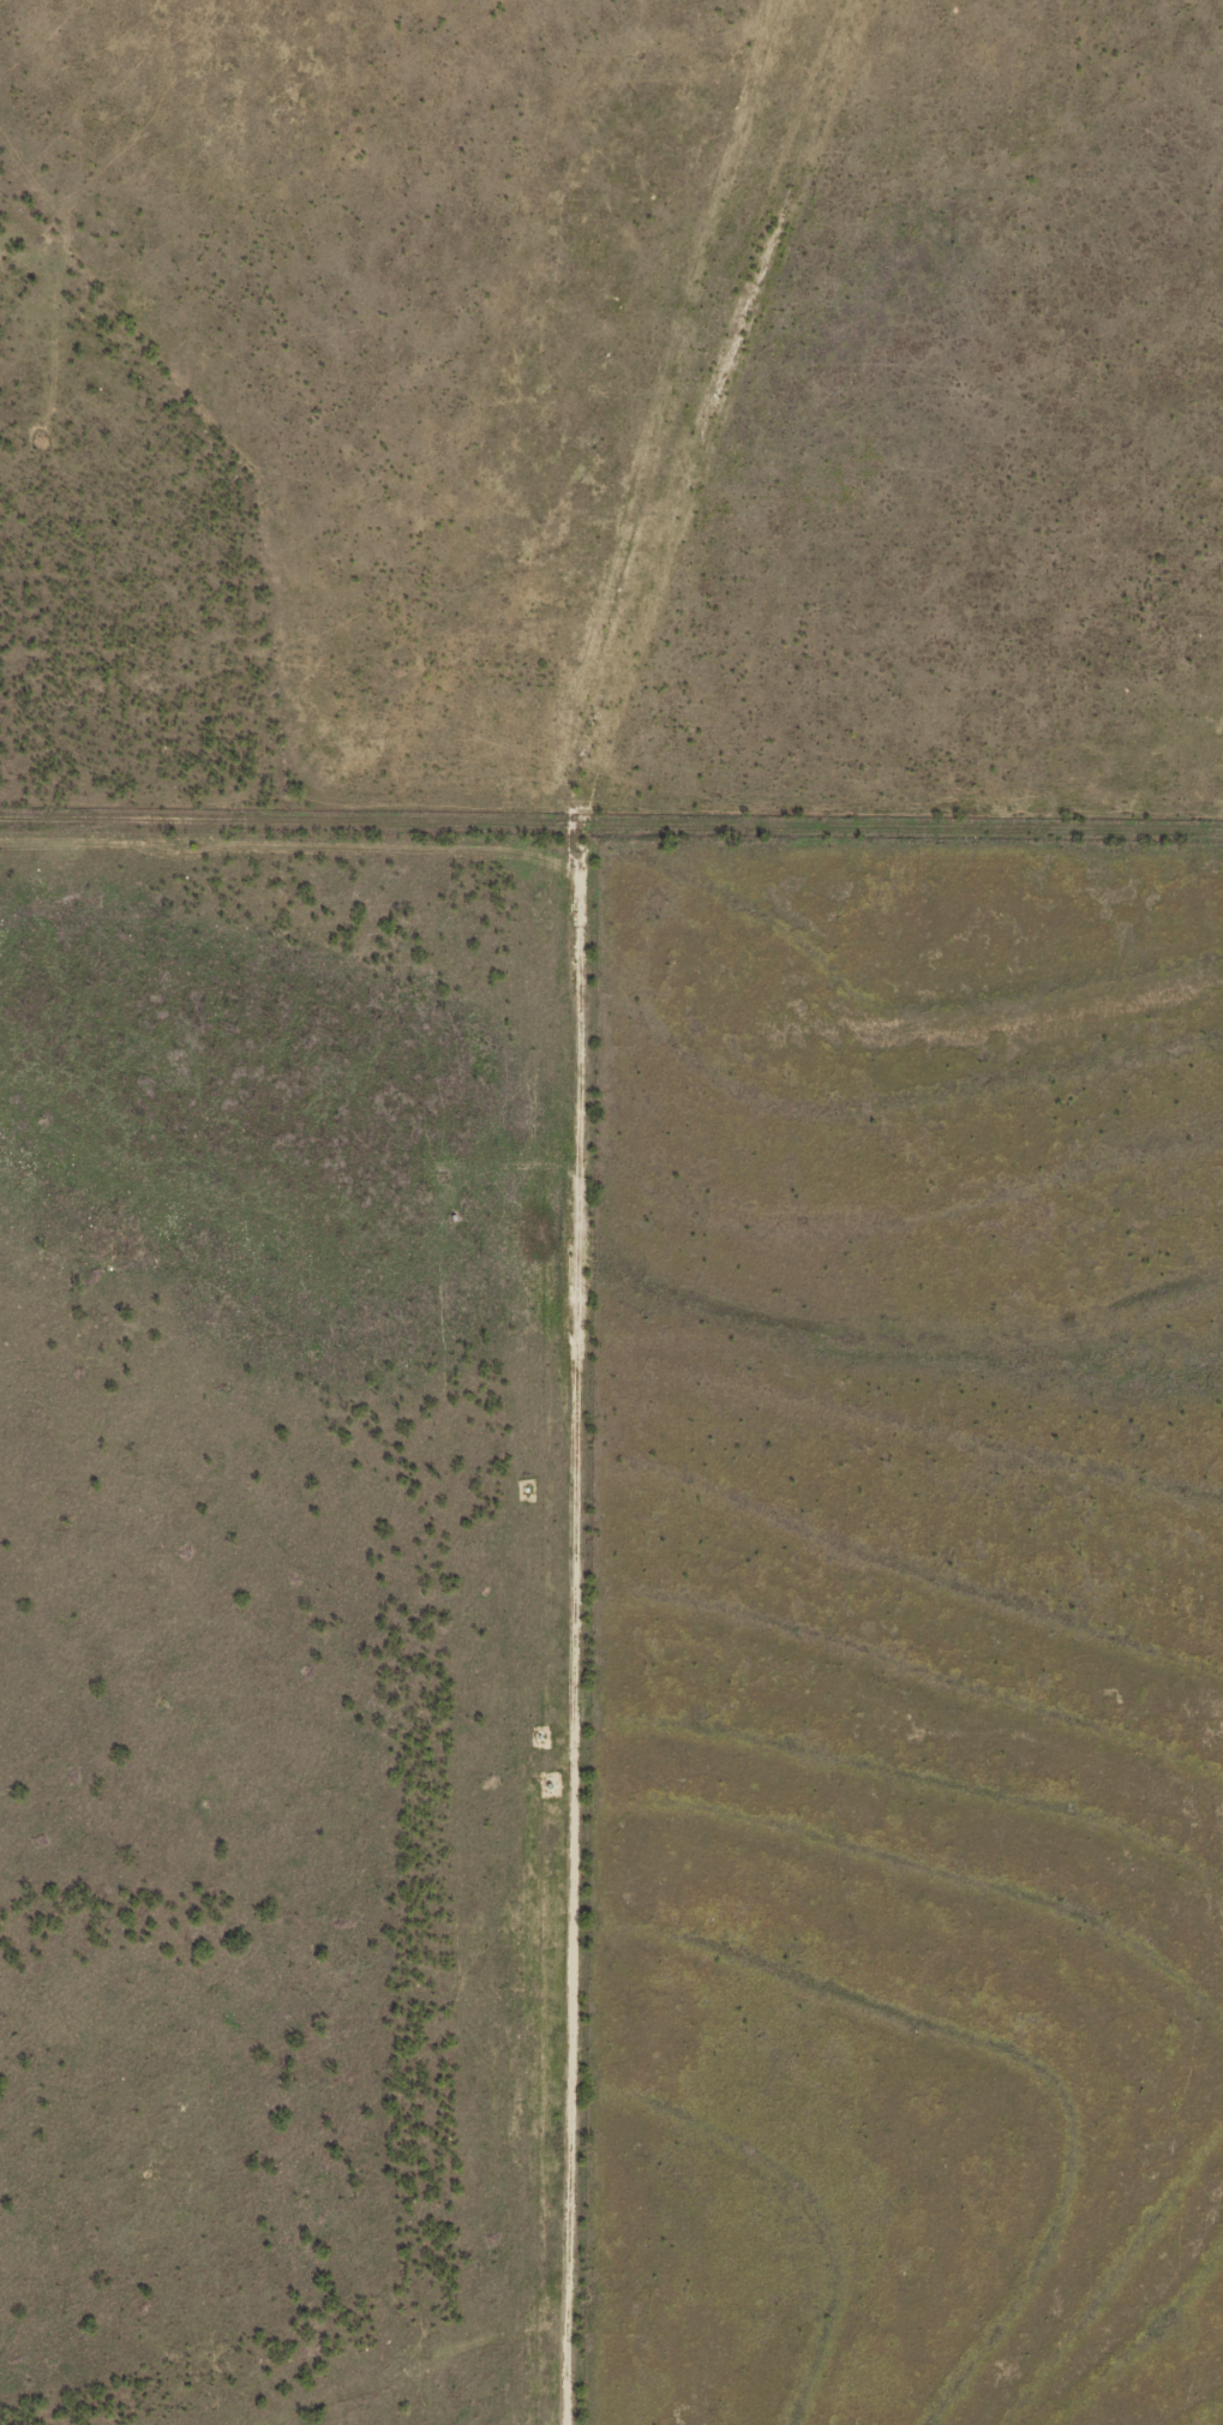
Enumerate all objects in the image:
road: (611, 845)

